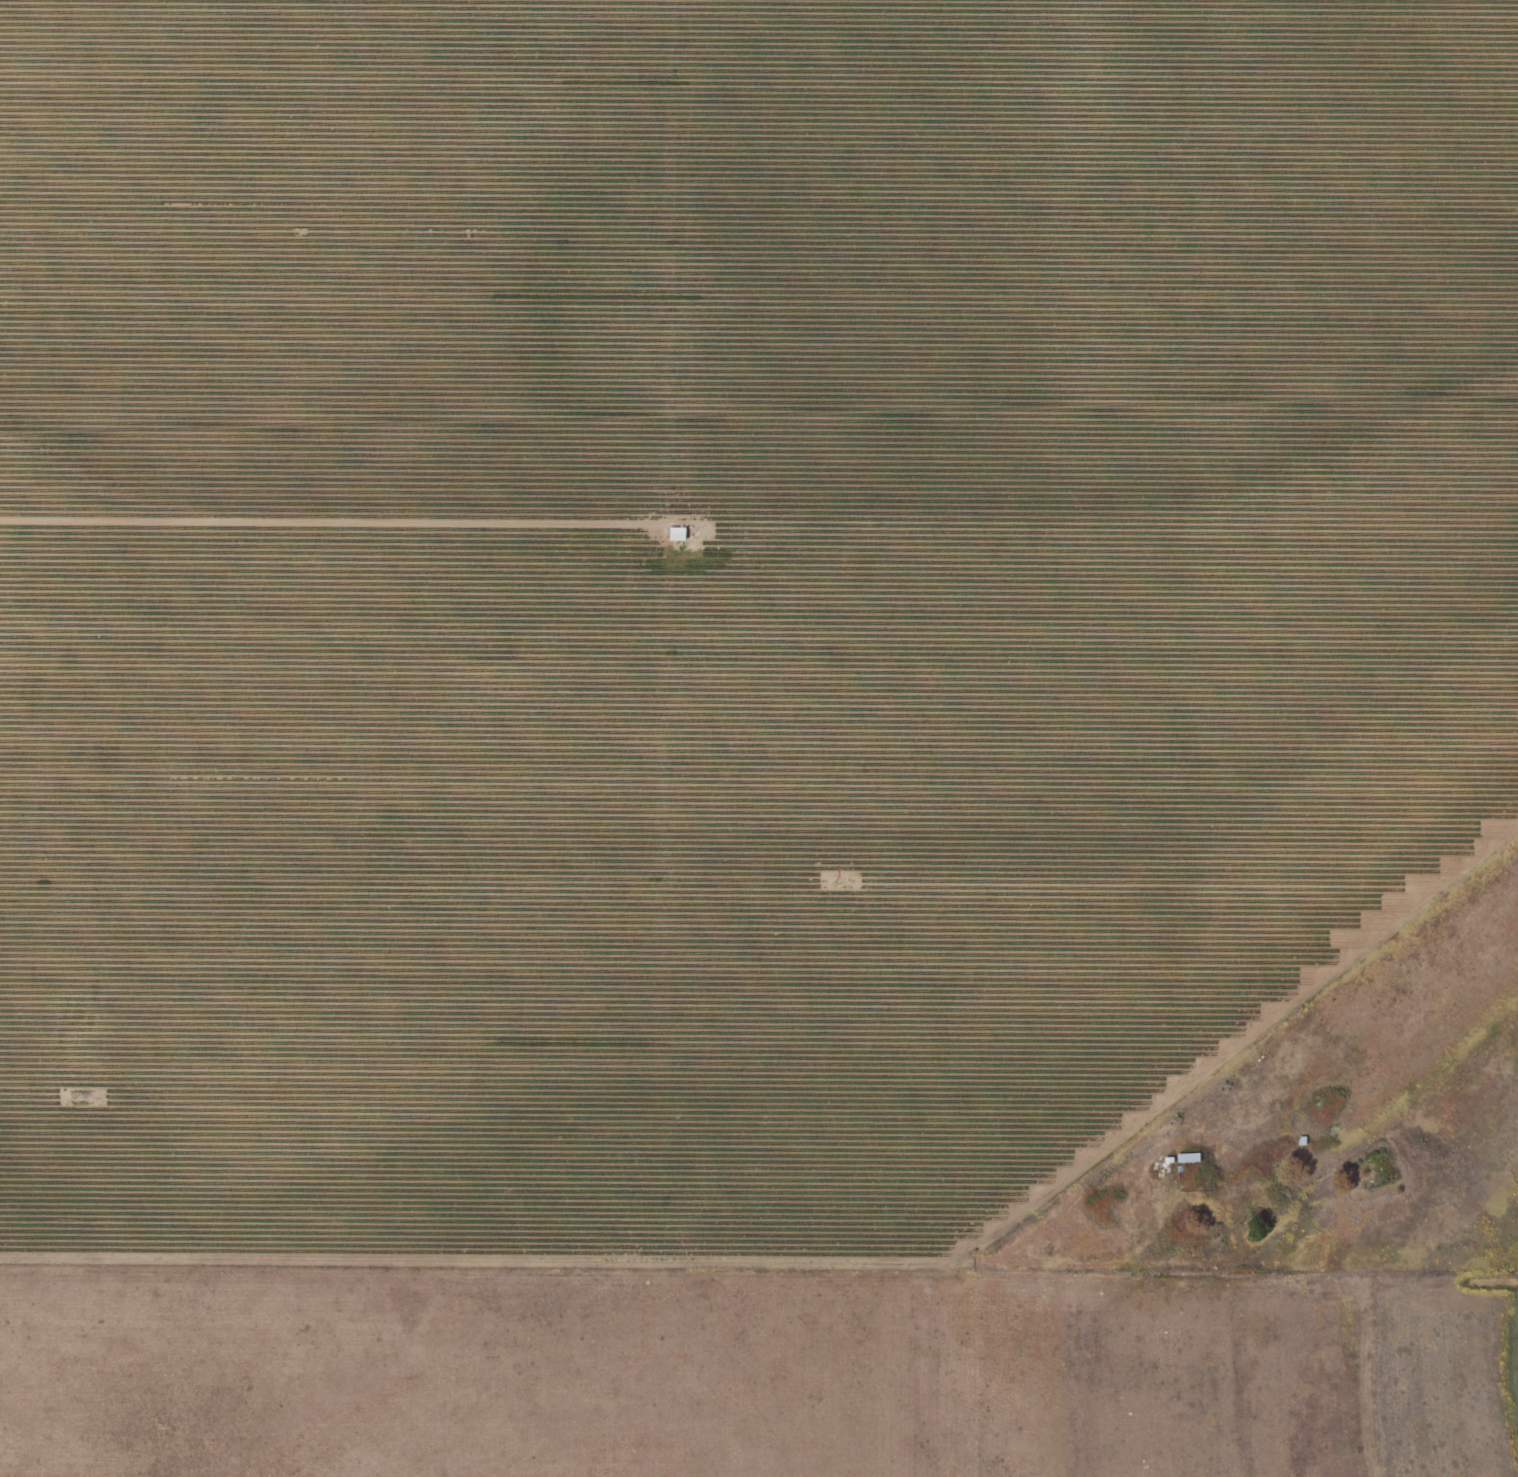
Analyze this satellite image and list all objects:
road: (1361, 981)

